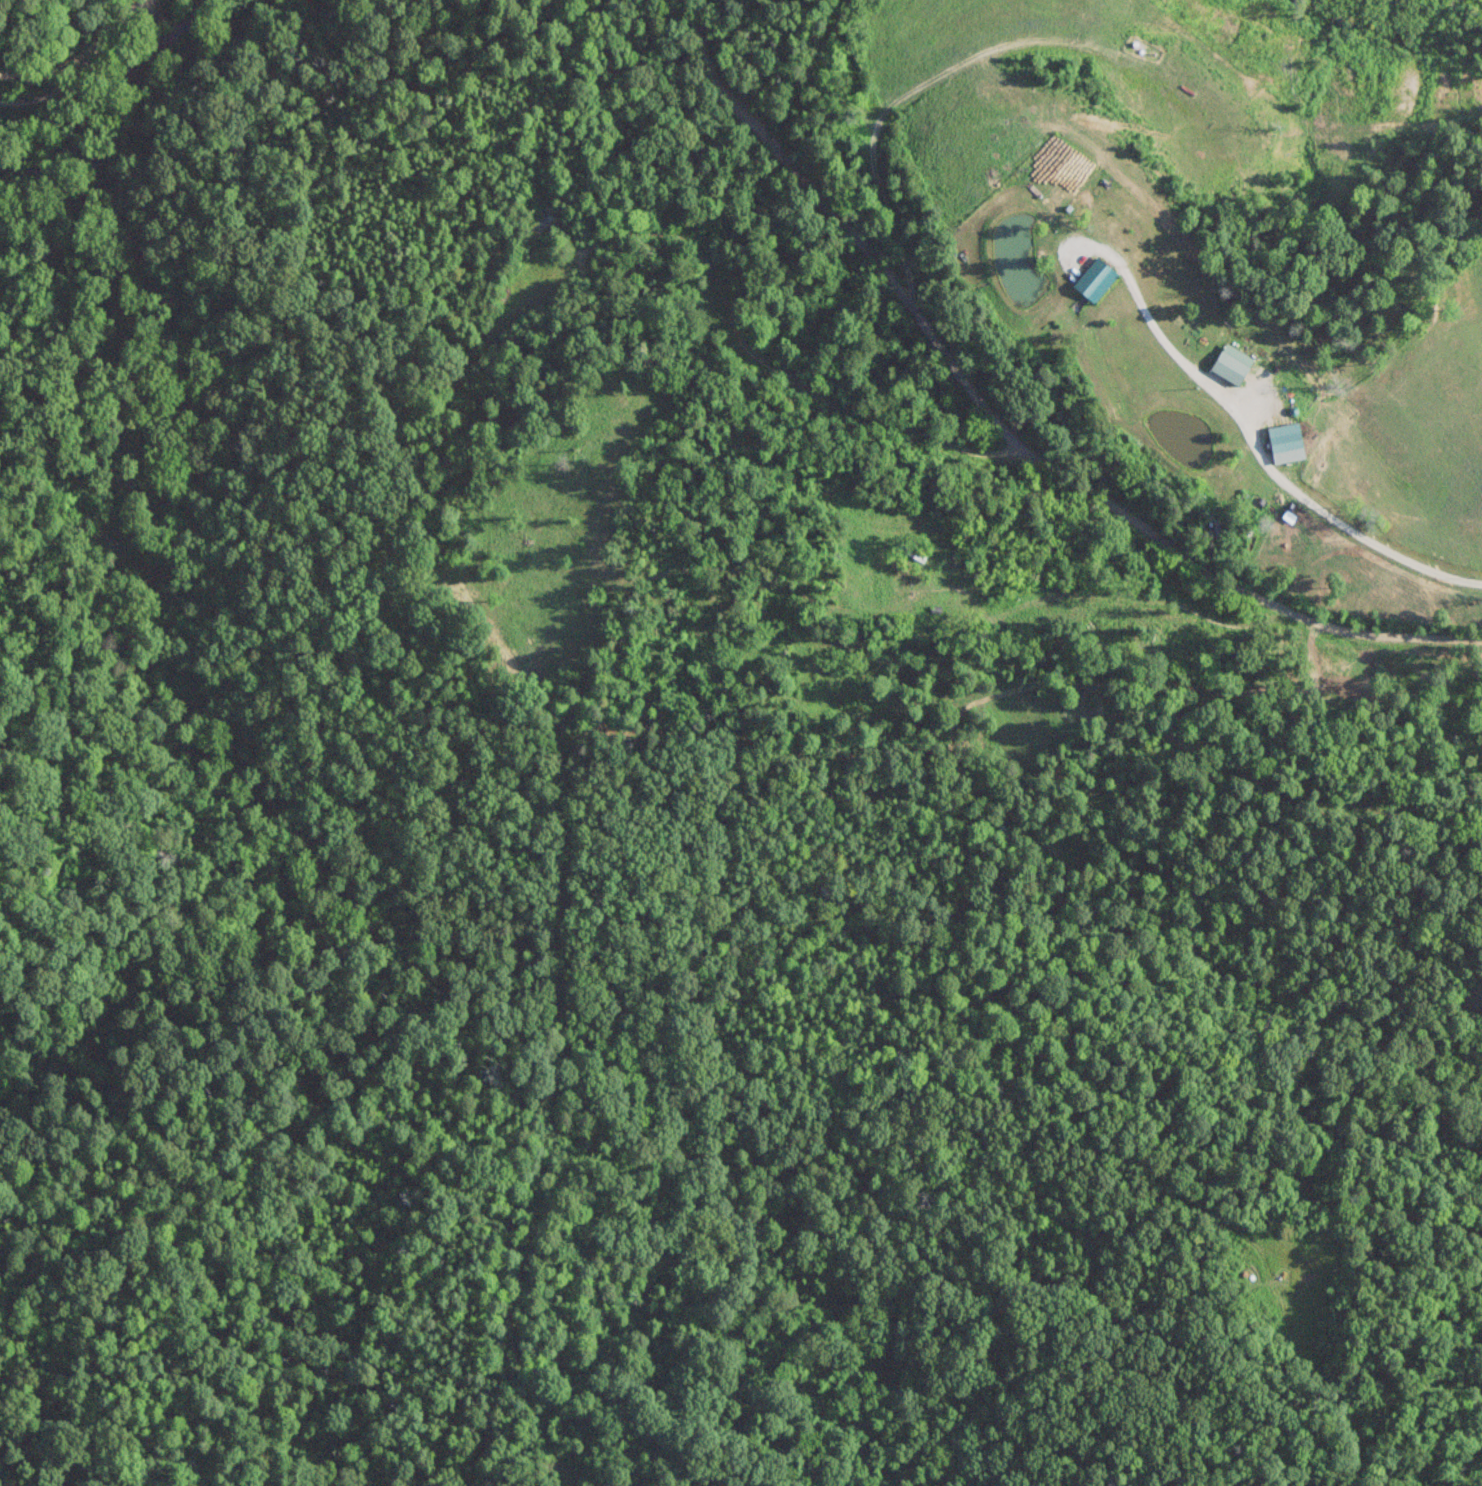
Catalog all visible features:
road: (41, 63)
road: (80, 64)
building: (1095, 278)
building: (1231, 363)
road: (1003, 431)
building: (1284, 436)
road: (1141, 627)

